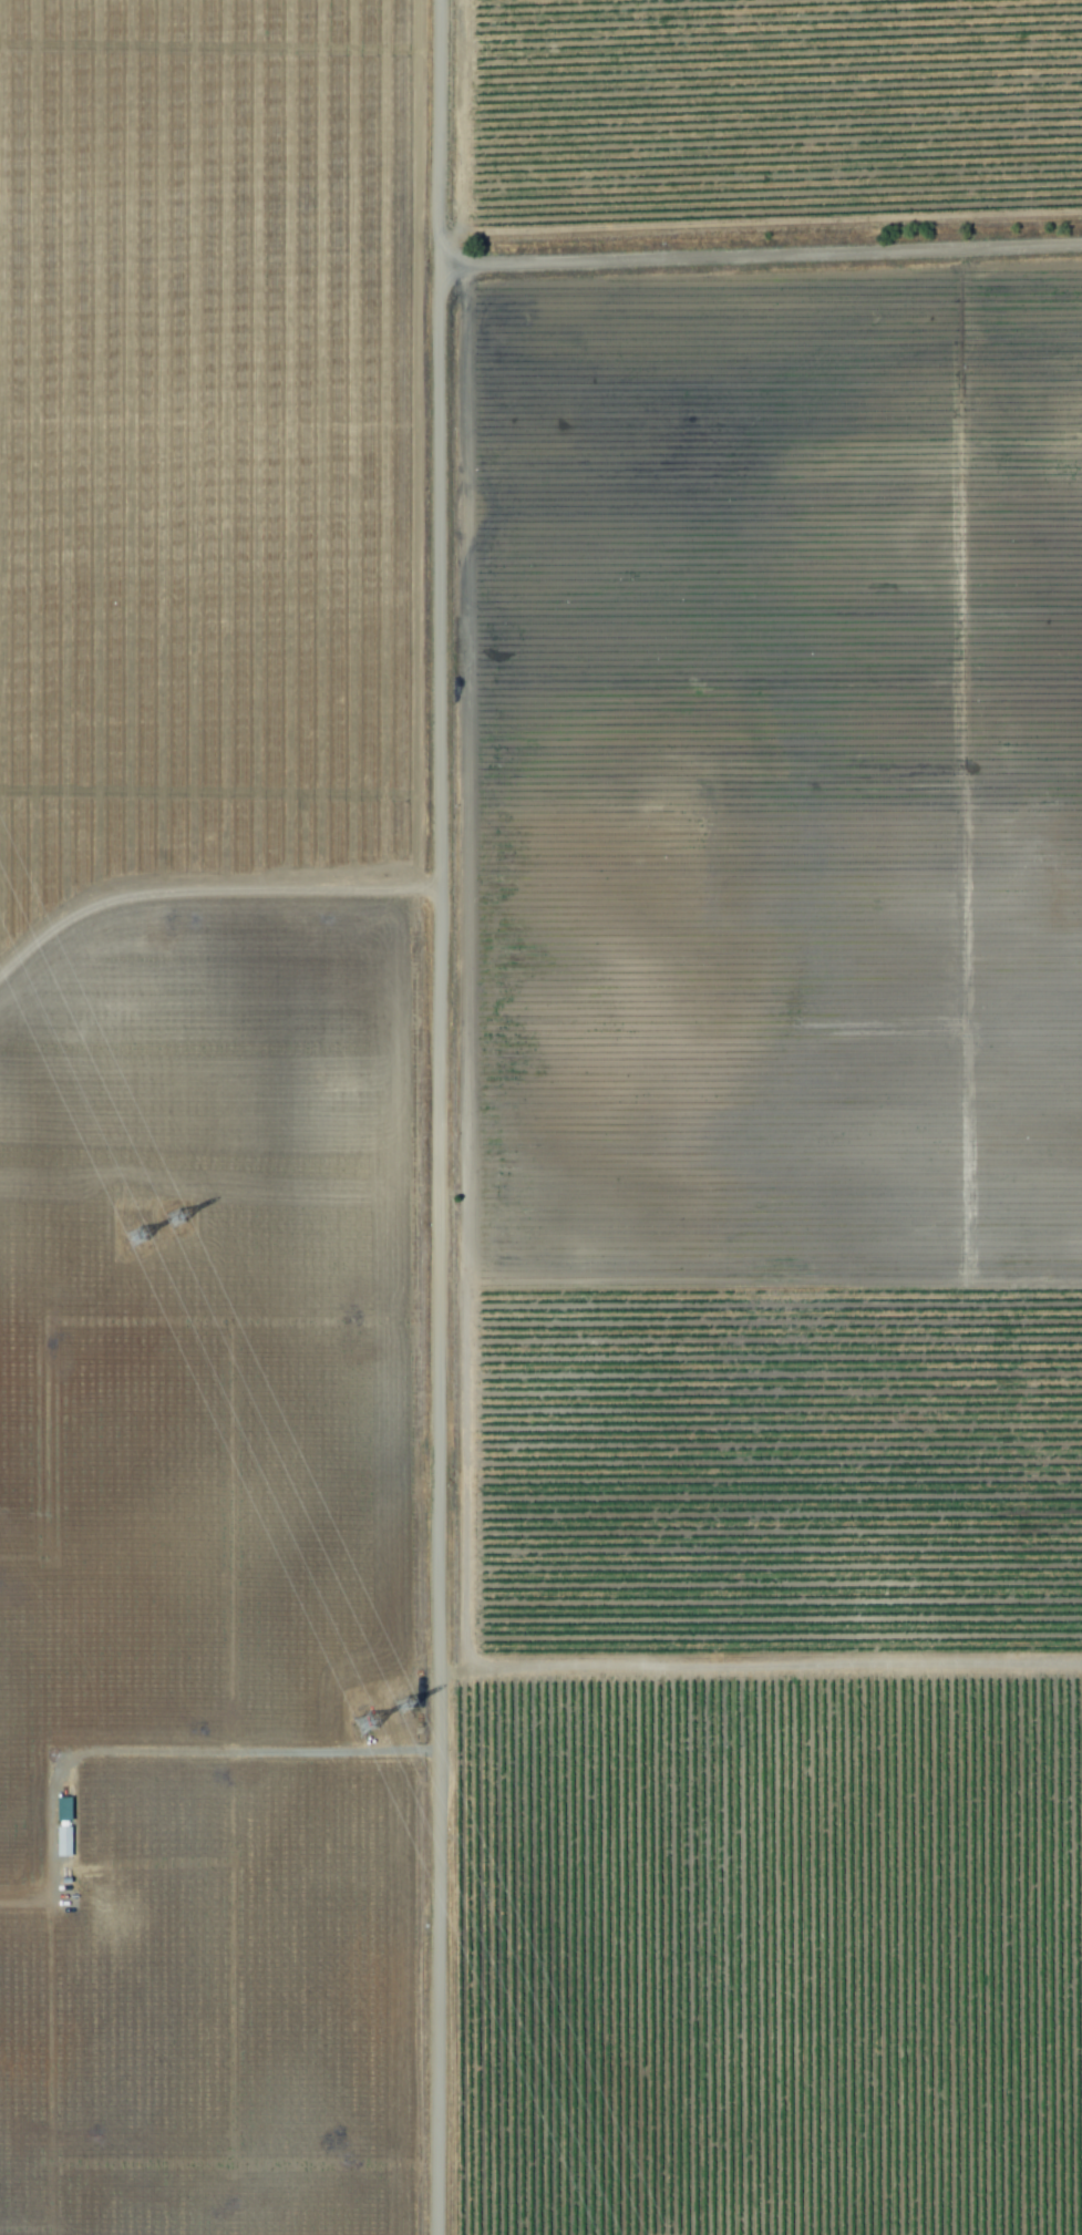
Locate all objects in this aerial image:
road: (764, 257)
road: (209, 893)
road: (444, 1117)
power tower: (172, 1217)
power tower: (132, 1236)
road: (762, 1668)
power tower: (399, 1706)
power tower: (360, 1723)
road: (155, 1753)
building: (65, 1836)

